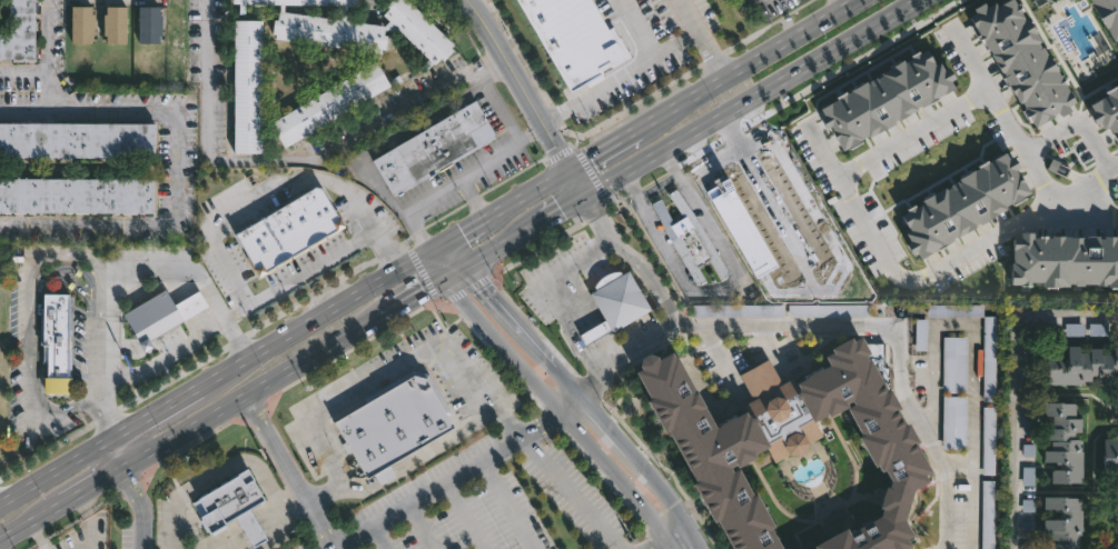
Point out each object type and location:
building: (297, 3)
road: (840, 4)
building: (81, 22)
building: (115, 22)
building: (149, 22)
building: (359, 28)
road: (636, 29)
building: (17, 30)
road: (46, 36)
road: (701, 39)
building: (580, 40)
road: (513, 59)
road: (754, 61)
road: (22, 71)
road: (623, 76)
building: (247, 86)
road: (776, 89)
road: (47, 90)
building: (329, 103)
road: (141, 109)
road: (1005, 119)
road: (1080, 128)
road: (531, 132)
road: (733, 133)
road: (912, 136)
building: (76, 139)
road: (562, 143)
road: (613, 146)
building: (434, 148)
road: (299, 162)
road: (712, 162)
road: (476, 166)
traffic signals: (576, 168)
road: (583, 184)
road: (609, 190)
road: (531, 193)
building: (76, 194)
road: (473, 197)
building: (756, 197)
traffic signals: (590, 201)
road: (1099, 207)
road: (565, 213)
road: (780, 217)
road: (862, 221)
road: (87, 223)
road: (217, 224)
road: (1031, 228)
road: (739, 231)
road: (824, 231)
road: (458, 233)
building: (772, 233)
building: (689, 237)
road: (502, 247)
traffic signals: (433, 249)
road: (448, 258)
road: (634, 261)
road: (438, 263)
traffic signals: (464, 267)
road: (31, 272)
road: (454, 272)
road: (198, 277)
traffic signals: (444, 279)
road: (720, 289)
road: (421, 293)
road: (552, 296)
road: (493, 300)
building: (615, 302)
road: (236, 312)
building: (731, 312)
building: (829, 312)
building: (162, 316)
road: (314, 318)
road: (840, 321)
building: (922, 336)
building: (62, 348)
road: (537, 350)
road: (165, 358)
building: (990, 360)
building: (956, 366)
building: (1081, 366)
building: (918, 371)
road: (376, 376)
road: (565, 382)
road: (1019, 382)
road: (266, 387)
road: (568, 403)
road: (158, 411)
road: (561, 413)
road: (109, 415)
building: (1031, 420)
building: (394, 423)
building: (956, 423)
road: (603, 425)
building: (989, 441)
building: (1063, 442)
road: (127, 450)
building: (802, 455)
building: (1110, 456)
building: (1029, 466)
road: (59, 469)
road: (218, 472)
road: (293, 472)
road: (445, 480)
road: (101, 487)
road: (570, 490)
road: (666, 497)
road: (505, 503)
building: (229, 506)
road: (142, 507)
building: (961, 513)
road: (465, 515)
building: (989, 515)
building: (1063, 521)
road: (281, 522)
road: (33, 526)
road: (418, 527)
road: (375, 538)
road: (669, 538)

